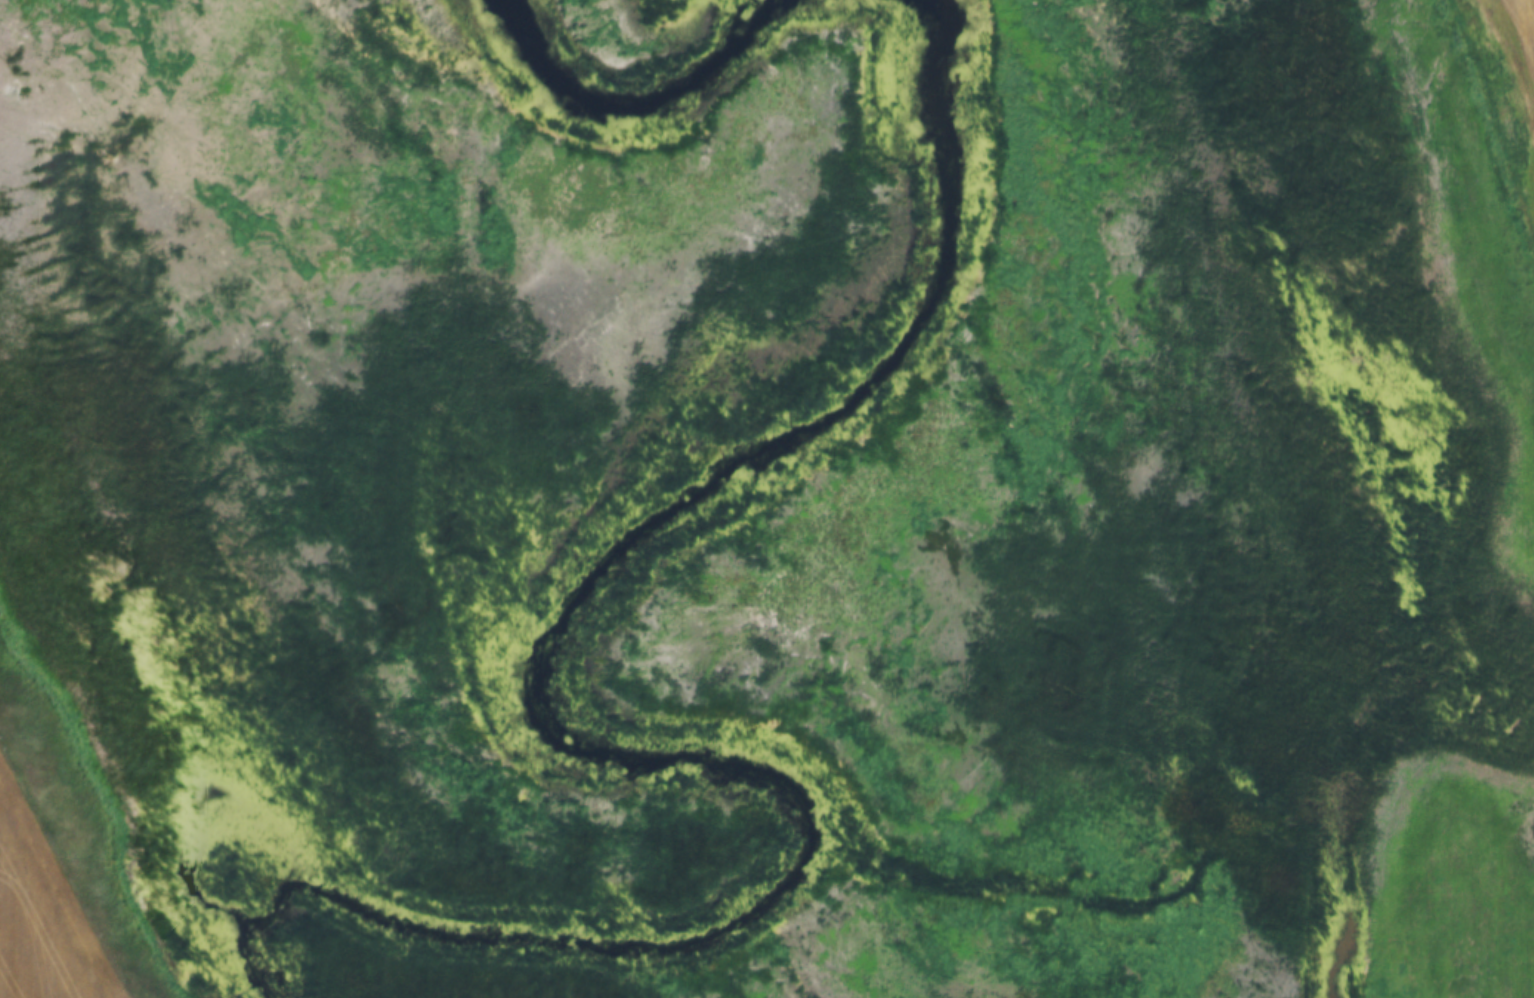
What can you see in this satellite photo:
river: (646, 88)
river: (604, 743)

